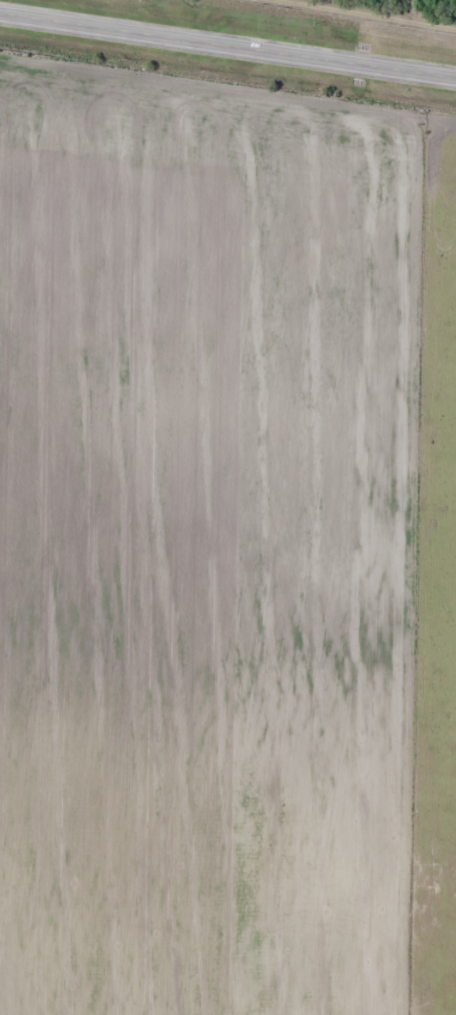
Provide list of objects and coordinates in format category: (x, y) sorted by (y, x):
road: (228, 45)

